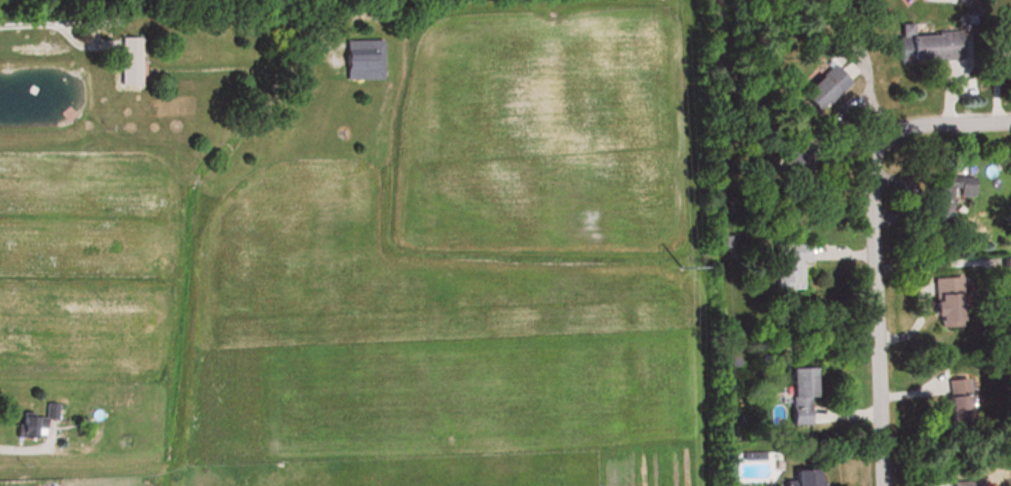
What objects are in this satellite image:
road: (33, 22)
building: (927, 47)
building: (127, 61)
building: (359, 61)
road: (937, 124)
building: (820, 151)
building: (953, 190)
building: (1010, 193)
building: (787, 266)
building: (1008, 266)
power tower: (685, 269)
building: (944, 303)
road: (870, 317)
building: (798, 397)
building: (955, 401)
building: (36, 423)
road: (23, 447)
building: (802, 478)

